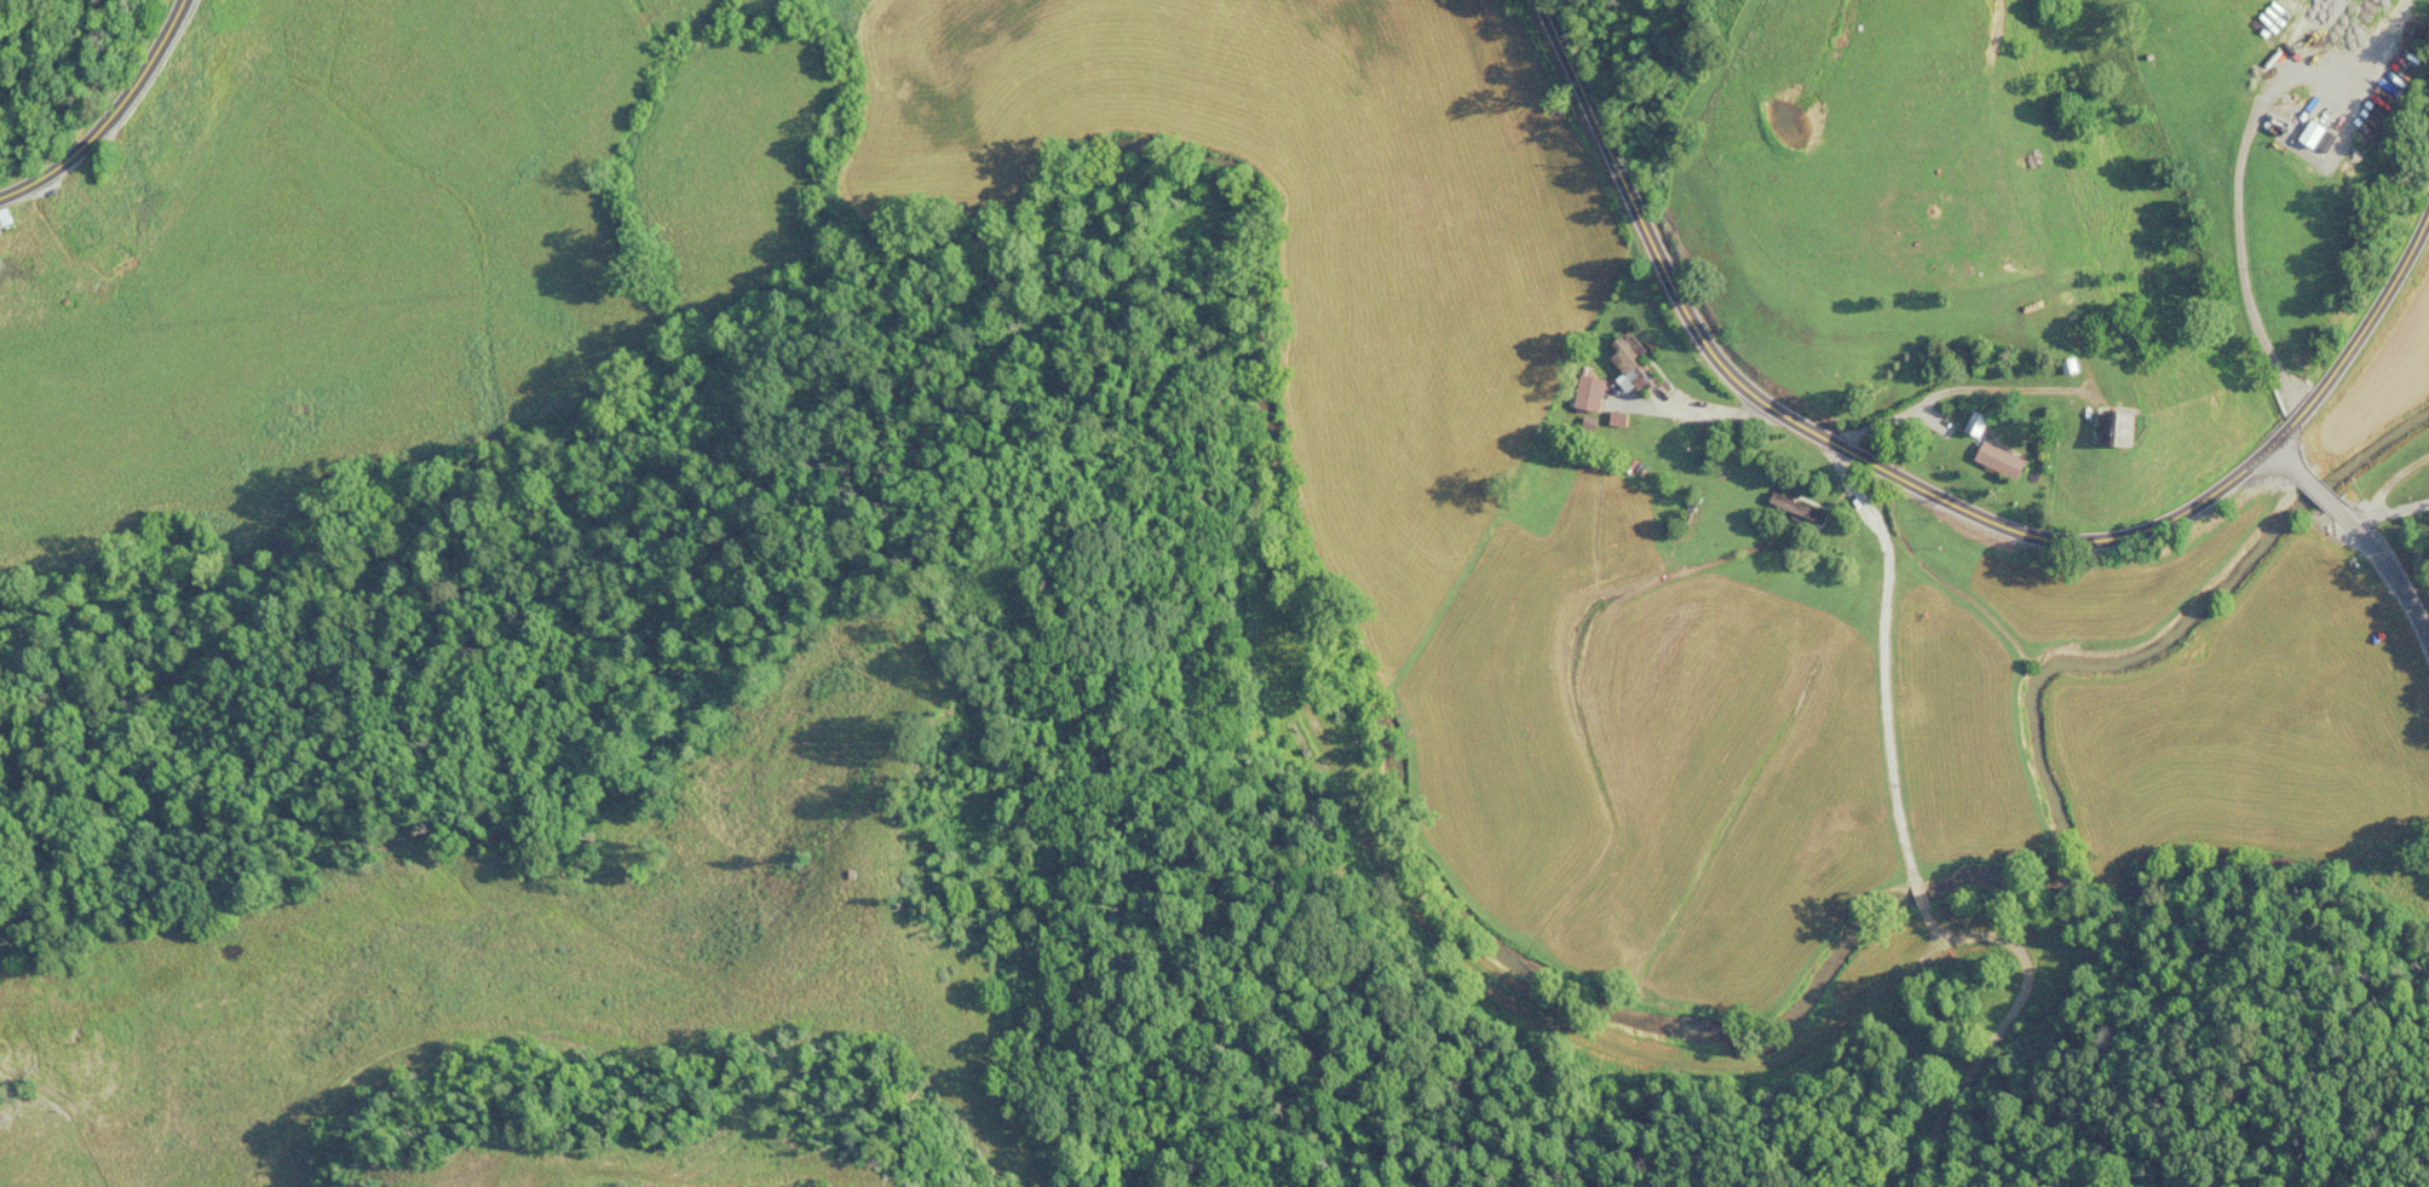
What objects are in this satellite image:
road: (109, 115)
building: (2301, 132)
building: (7, 219)
river: (1249, 230)
road: (2355, 329)
building: (1624, 346)
road: (1947, 387)
road: (1714, 408)
building: (2100, 426)
road: (1801, 427)
building: (1644, 430)
building: (1987, 459)
road: (2279, 459)
road: (2316, 491)
road: (2390, 574)
road: (1878, 656)
road: (1913, 893)
road: (2003, 1019)

